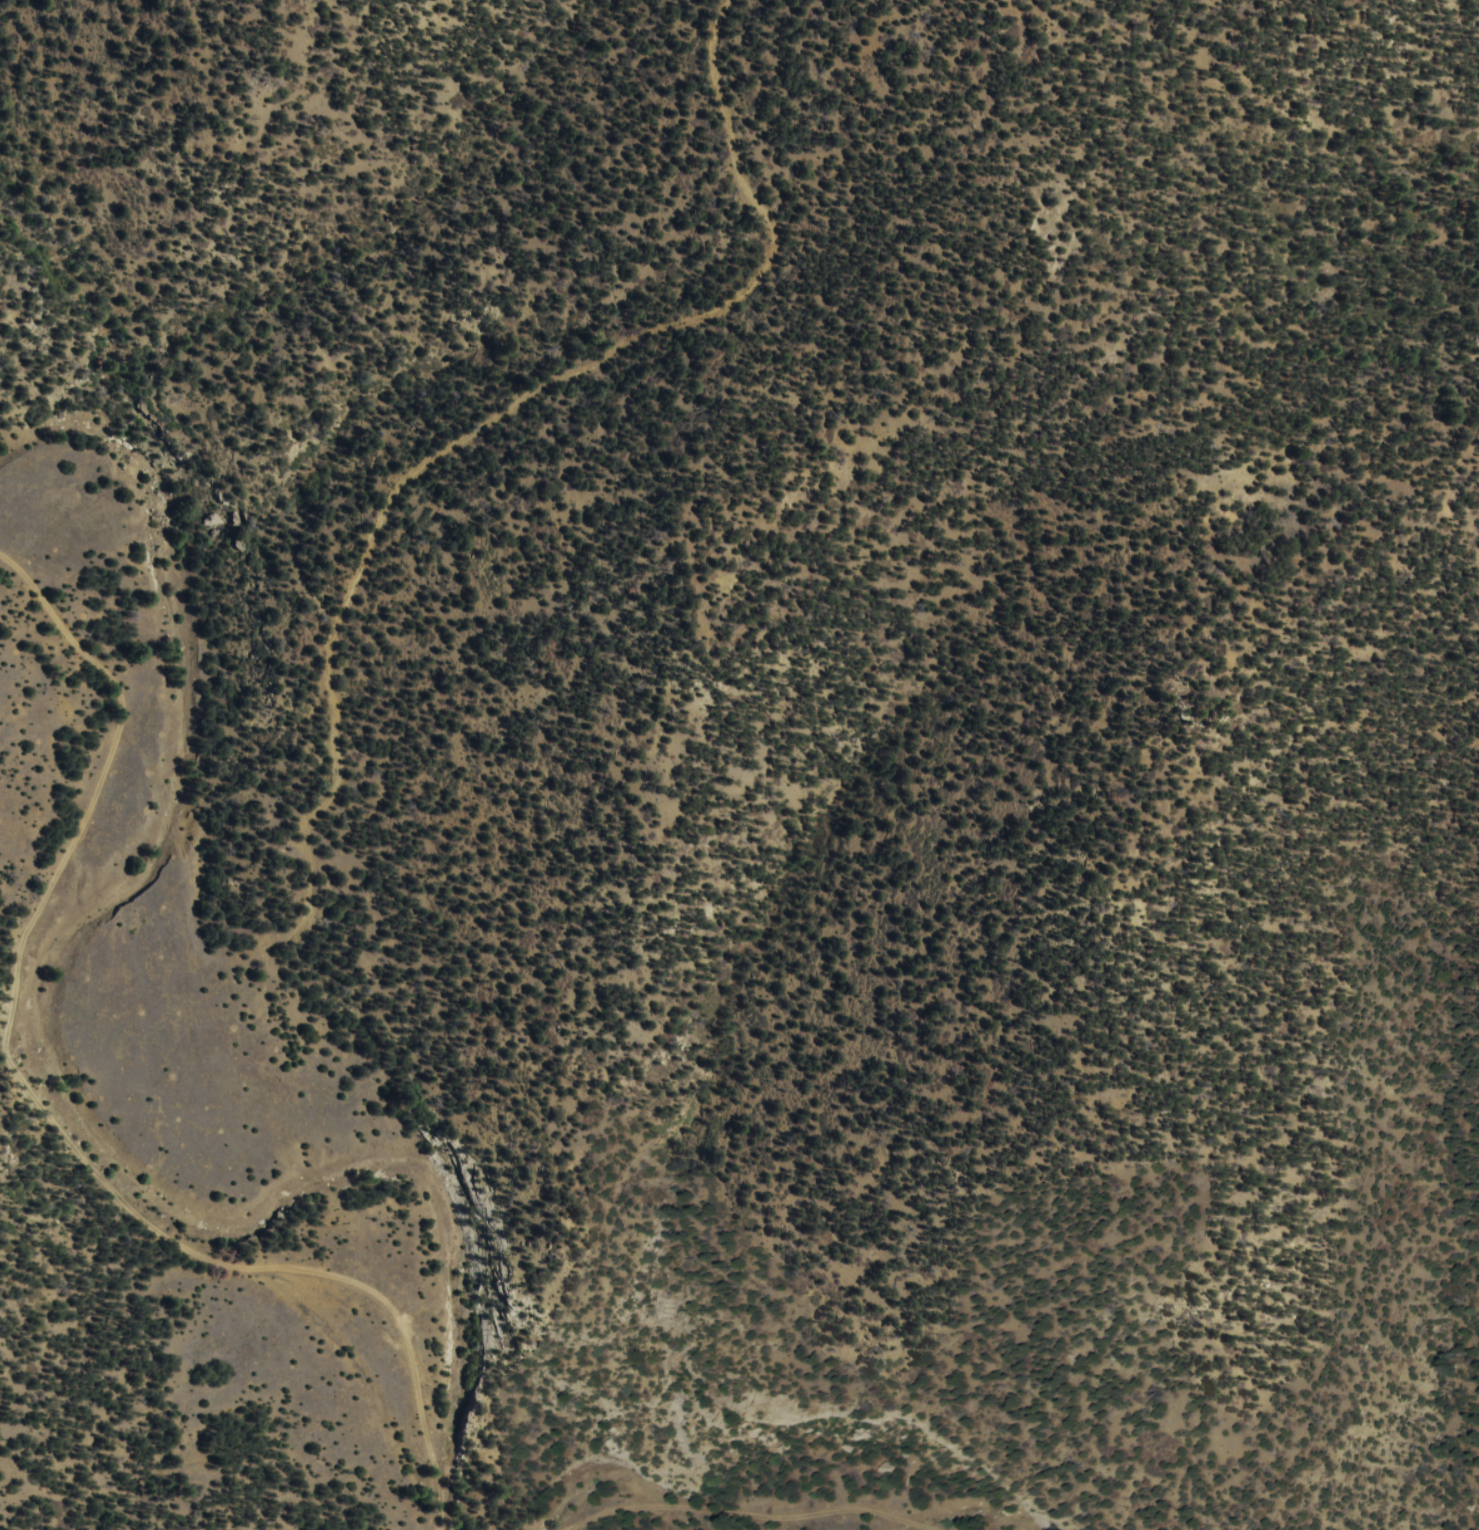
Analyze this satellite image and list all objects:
road: (374, 526)
road: (72, 643)
road: (123, 1203)
road: (743, 1513)

